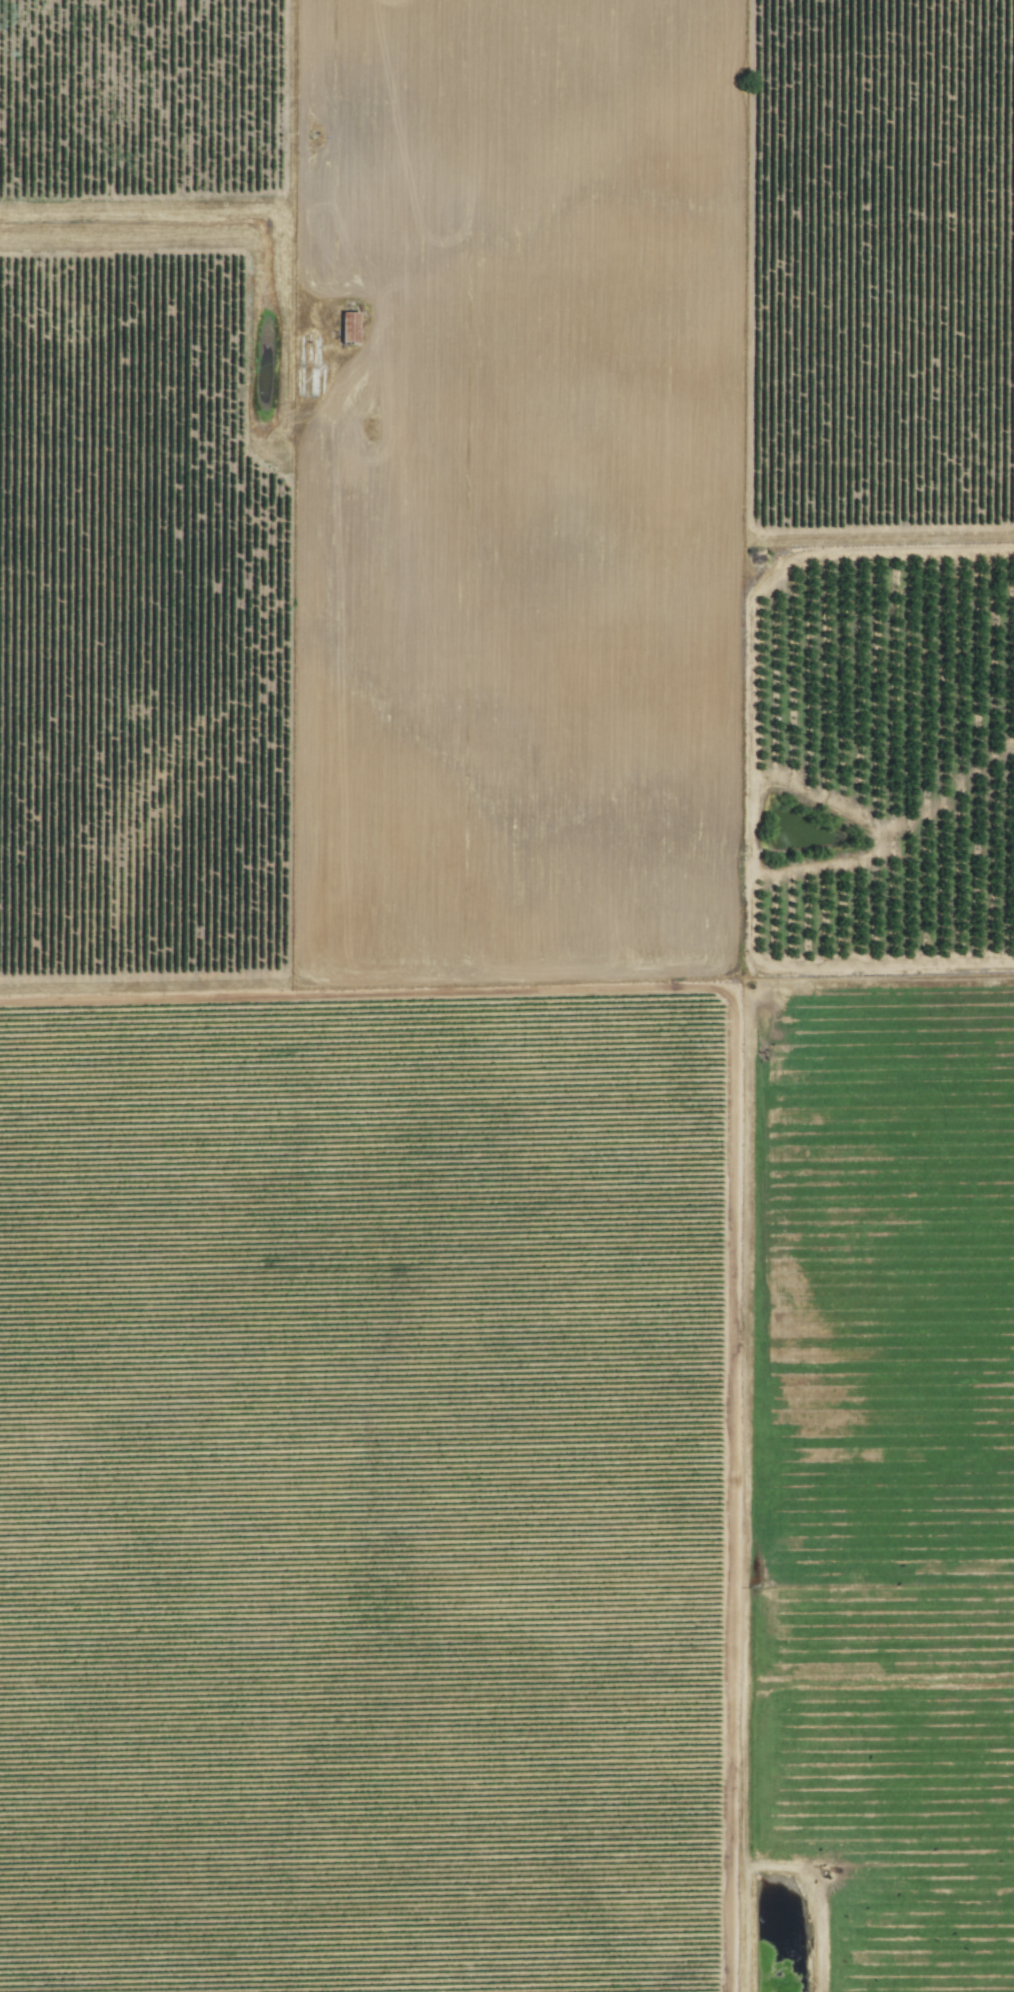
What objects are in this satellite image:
road: (725, 1136)

